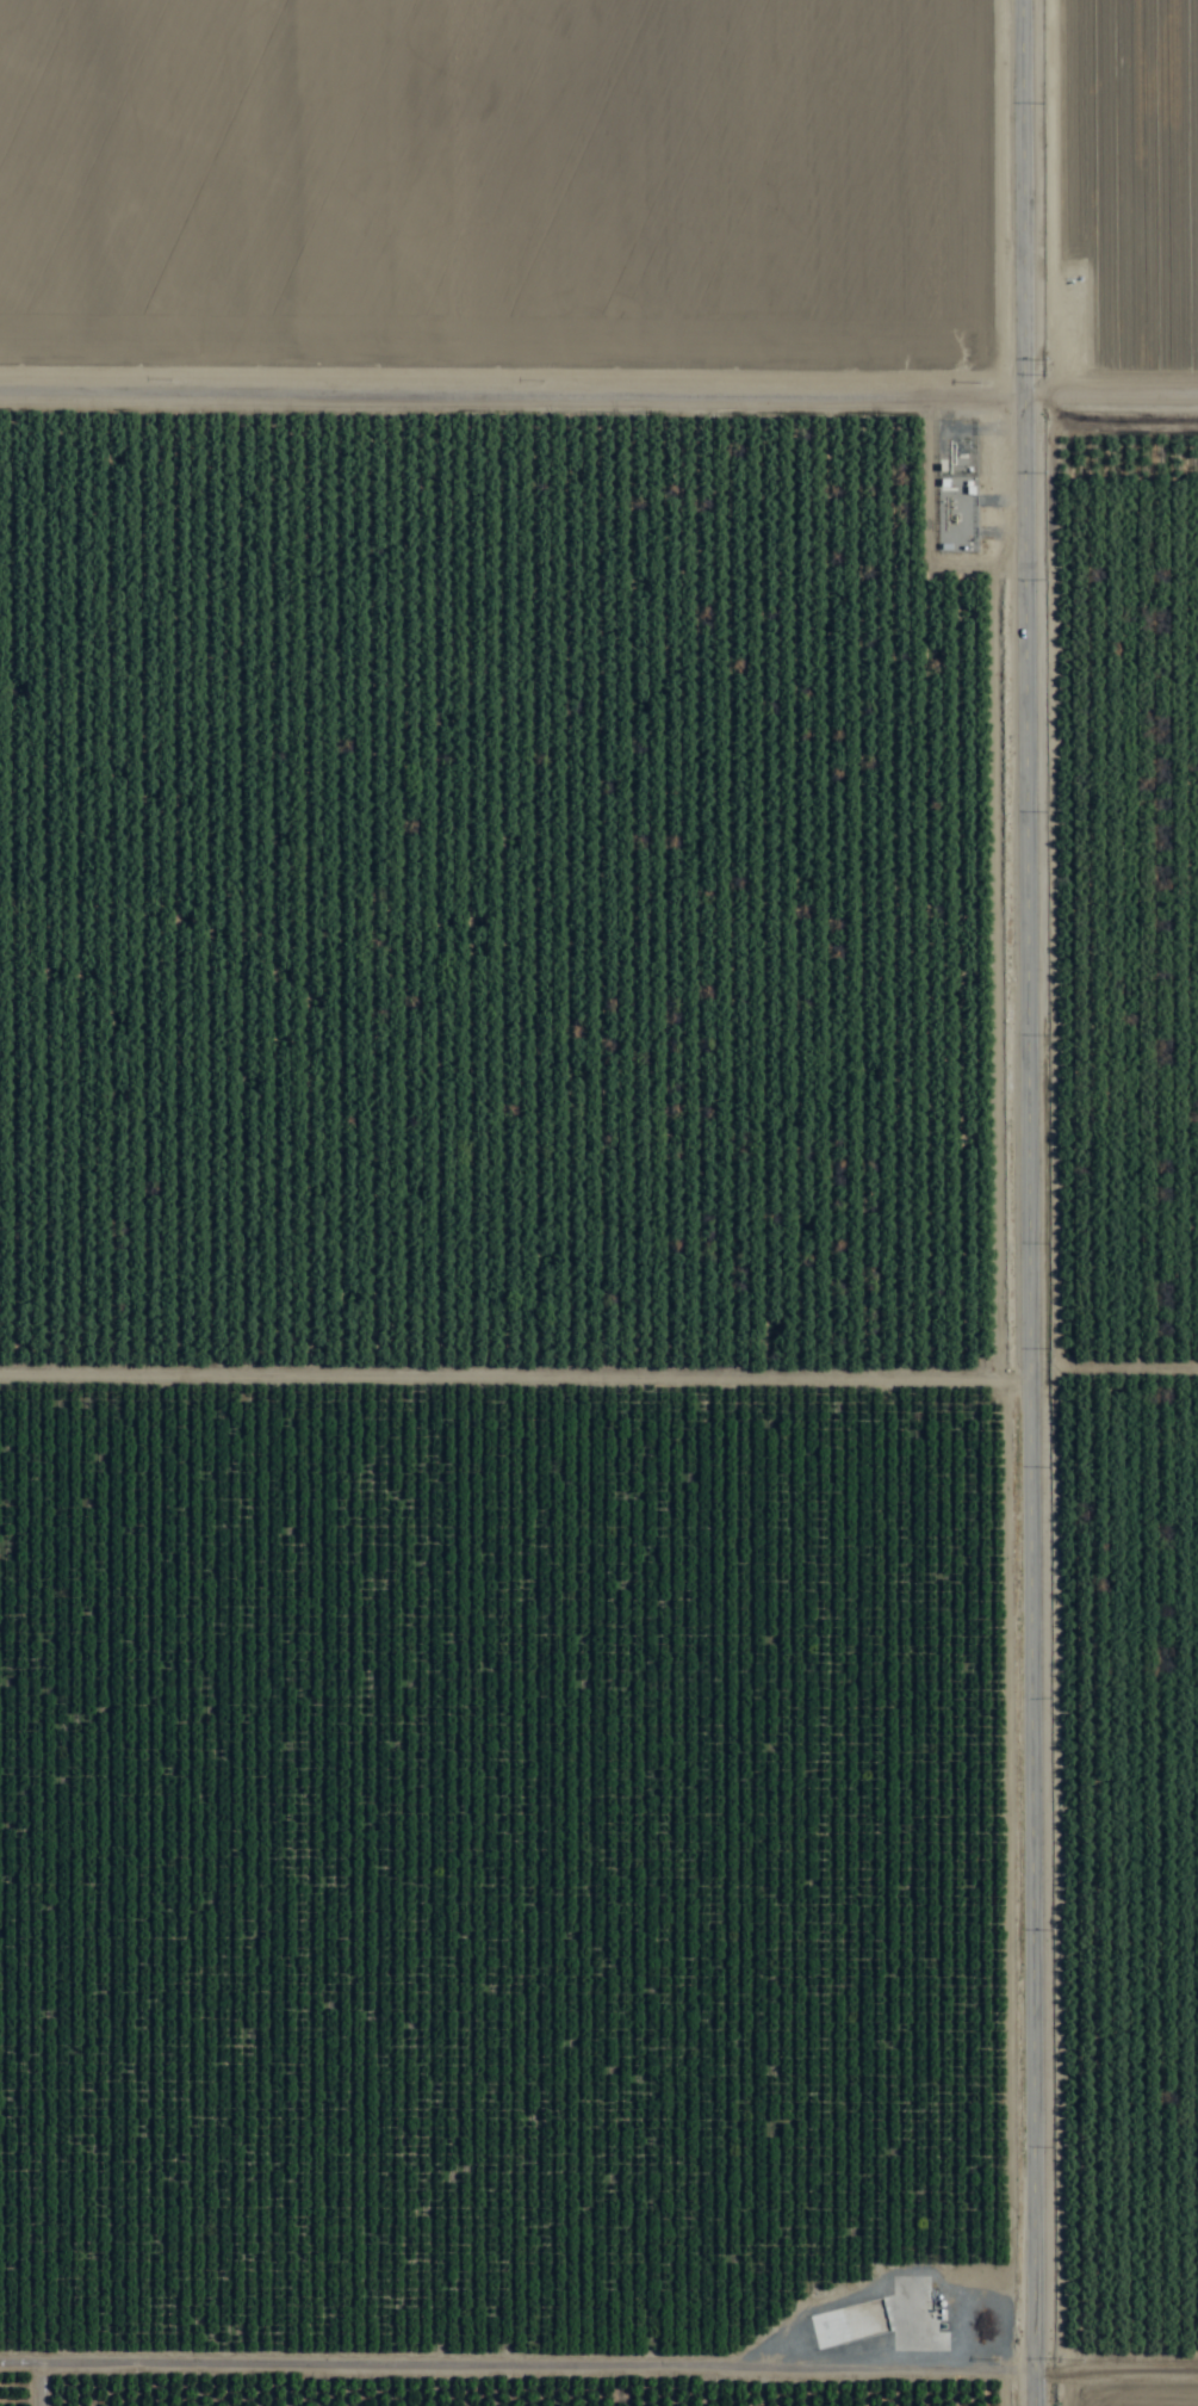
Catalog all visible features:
road: (514, 384)
road: (1112, 388)
crop: (598, 1202)
road: (1031, 1202)
road: (598, 2339)

